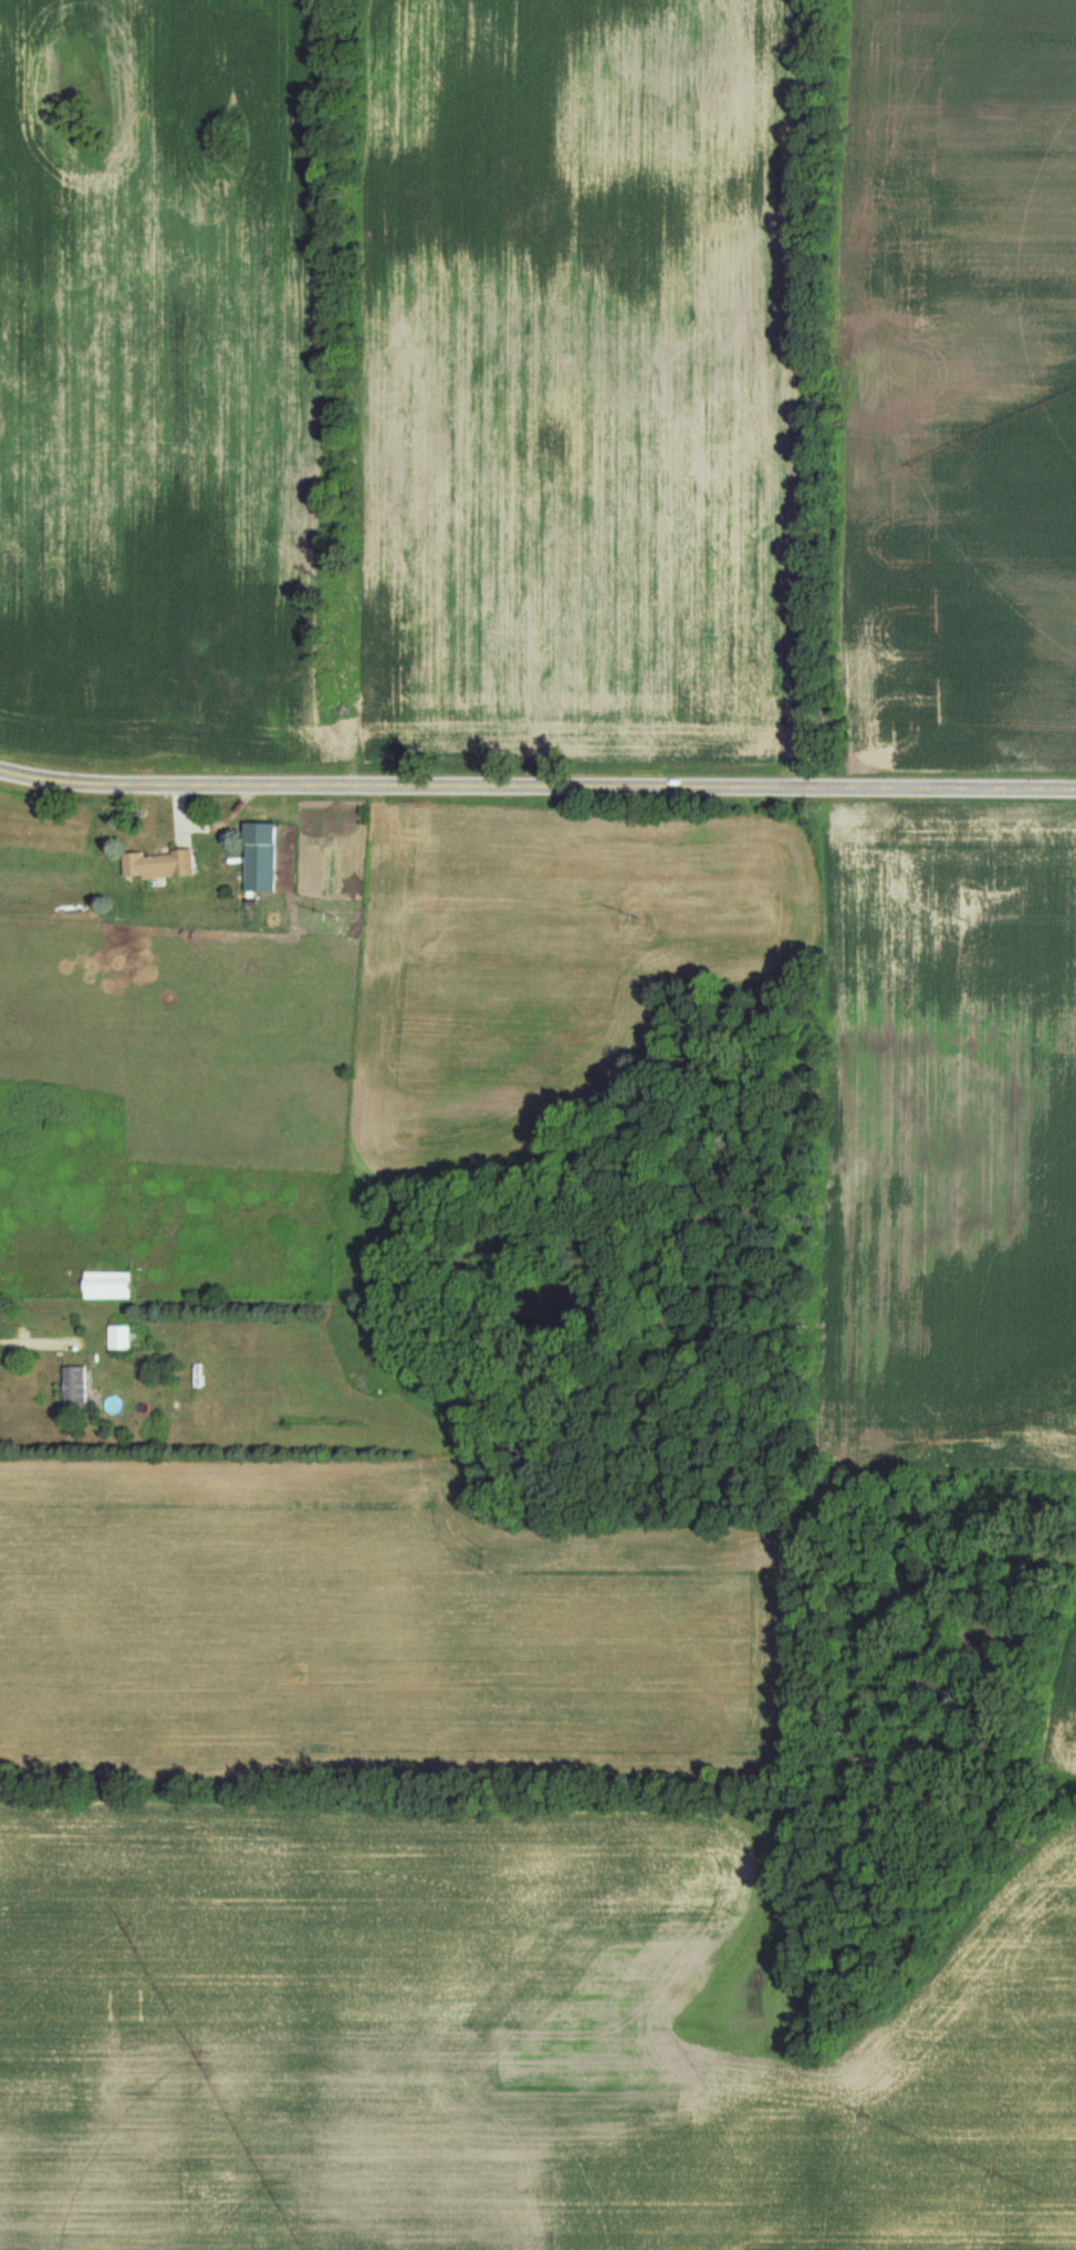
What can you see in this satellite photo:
road: (61, 781)
road: (537, 789)
building: (264, 857)
building: (161, 864)
power tower: (327, 913)
power tower: (640, 915)
power tower: (964, 919)
building: (113, 1284)
building: (123, 1337)
building: (80, 1386)

